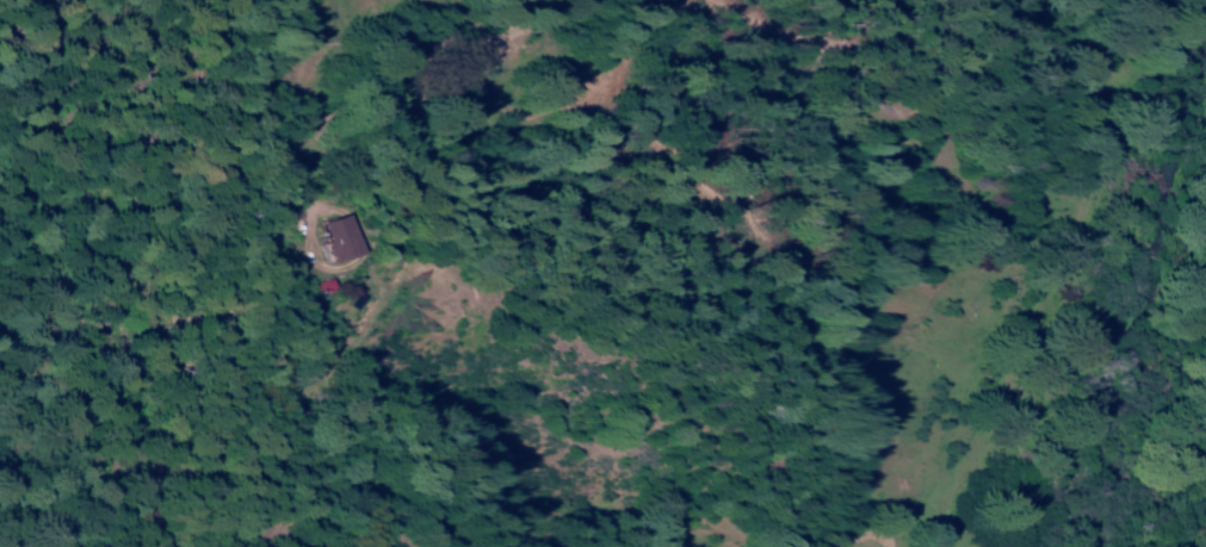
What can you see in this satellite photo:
building: (340, 240)
road: (307, 284)
road: (1045, 324)
river: (1149, 347)
road: (936, 534)

